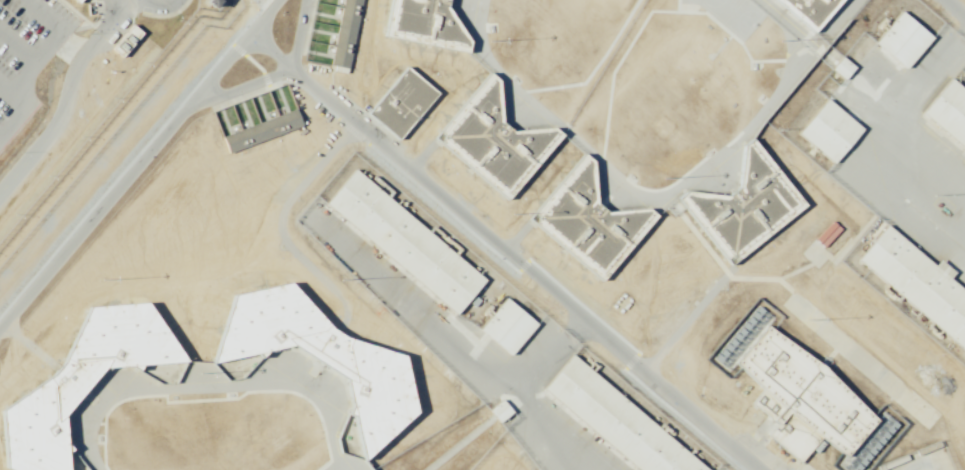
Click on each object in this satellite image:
building: (74, 1)
building: (208, 2)
road: (158, 6)
building: (808, 10)
building: (423, 23)
building: (345, 33)
building: (902, 39)
road: (56, 45)
road: (19, 48)
building: (841, 68)
road: (65, 97)
building: (400, 103)
building: (949, 111)
road: (27, 112)
building: (828, 130)
building: (261, 131)
road: (1, 139)
building: (491, 139)
building: (741, 204)
building: (586, 221)
building: (403, 242)
building: (917, 284)
building: (507, 326)
building: (316, 361)
building: (83, 382)
building: (802, 395)
building: (615, 419)

